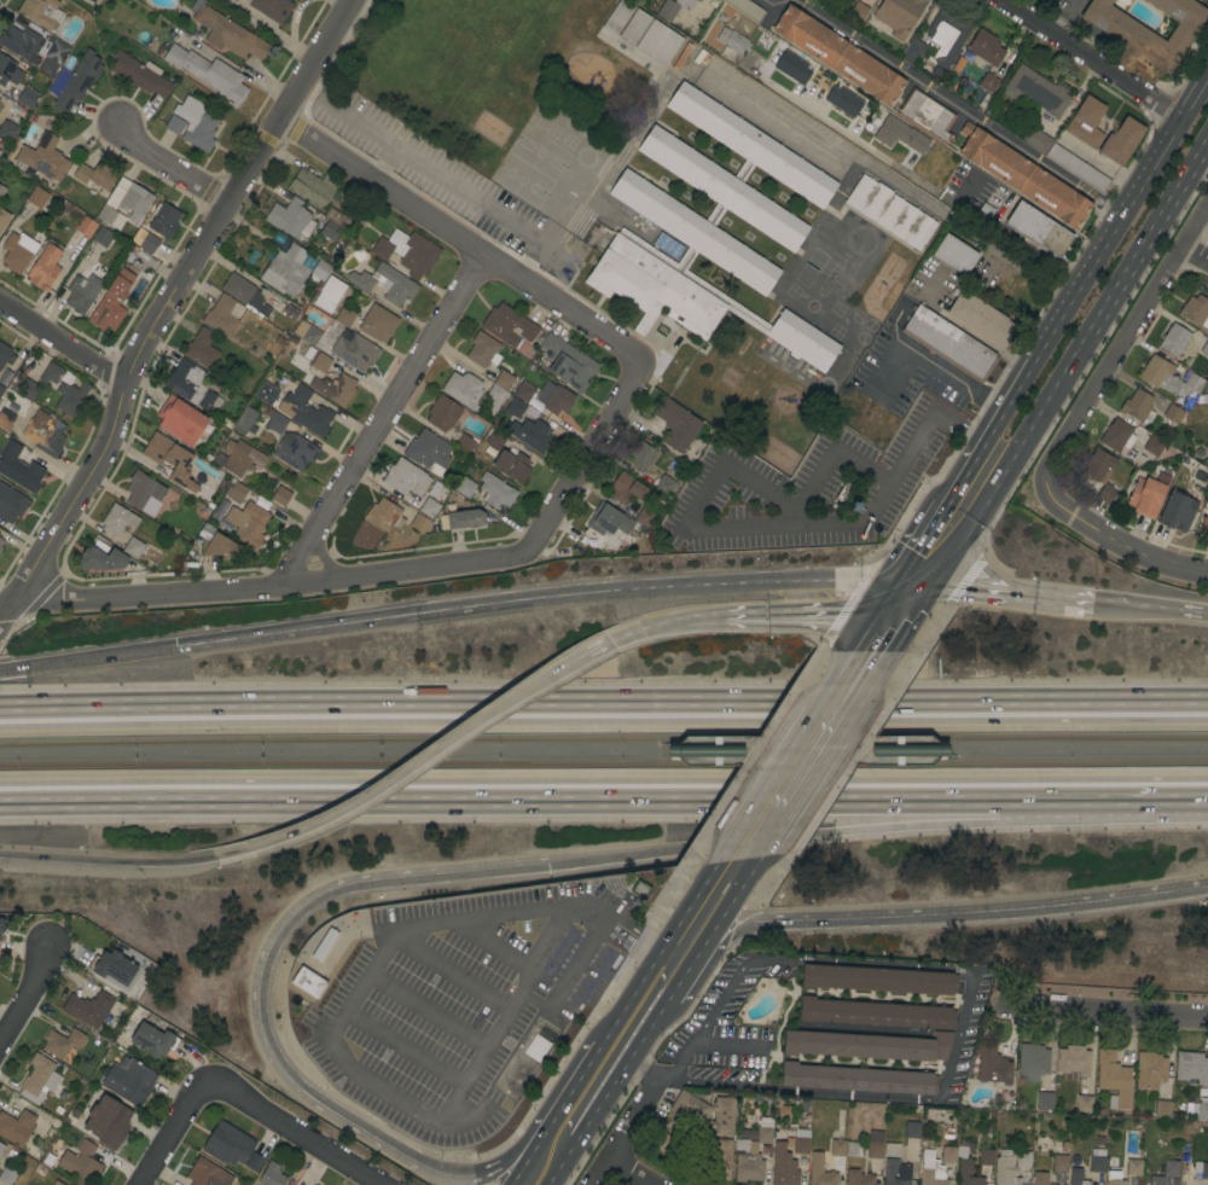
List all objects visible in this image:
building: (698, 0)
building: (765, 0)
building: (854, 0)
building: (673, 7)
building: (271, 8)
building: (745, 8)
building: (859, 10)
building: (41, 12)
building: (899, 14)
building: (617, 17)
road: (1062, 18)
building: (634, 28)
road: (271, 29)
building: (227, 33)
building: (1126, 33)
building: (947, 36)
building: (21, 41)
building: (733, 41)
building: (657, 42)
building: (985, 47)
building: (57, 52)
building: (912, 52)
building: (838, 54)
building: (681, 56)
road: (1084, 59)
park: (464, 65)
building: (792, 68)
building: (8, 71)
building: (209, 74)
building: (139, 75)
building: (975, 75)
building: (79, 81)
building: (987, 82)
building: (1036, 91)
building: (27, 97)
road: (940, 97)
building: (843, 100)
parking lot: (774, 115)
building: (927, 115)
building: (1086, 122)
building: (196, 123)
building: (174, 126)
road: (356, 126)
building: (7, 130)
building: (899, 134)
building: (1121, 140)
park: (538, 152)
road: (819, 152)
building: (43, 157)
building: (1062, 157)
road: (1202, 158)
road: (174, 164)
parking lot: (422, 164)
road: (902, 165)
road: (379, 170)
building: (95, 175)
building: (1023, 176)
park: (519, 179)
building: (312, 187)
building: (1, 190)
building: (36, 198)
building: (135, 201)
road: (483, 202)
road: (1120, 210)
building: (890, 211)
building: (105, 214)
building: (4, 217)
building: (341, 217)
building: (290, 219)
building: (164, 220)
building: (117, 221)
building: (85, 226)
building: (710, 230)
building: (1038, 230)
building: (330, 231)
road: (1148, 233)
building: (103, 237)
road: (455, 240)
building: (149, 243)
building: (667, 245)
building: (17, 251)
building: (407, 251)
road: (1006, 254)
building: (954, 255)
road: (1194, 261)
building: (43, 268)
building: (284, 269)
building: (318, 271)
building: (385, 284)
building: (242, 291)
building: (82, 292)
building: (329, 294)
building: (111, 302)
road: (161, 306)
building: (1195, 310)
building: (221, 315)
building: (344, 316)
building: (981, 319)
building: (377, 324)
building: (509, 326)
building: (309, 335)
building: (1174, 339)
building: (948, 343)
road: (60, 347)
building: (201, 348)
building: (352, 348)
building: (1204, 348)
building: (483, 350)
building: (5, 355)
building: (568, 362)
road: (933, 367)
building: (1169, 378)
building: (504, 379)
building: (344, 381)
building: (191, 384)
building: (1, 388)
building: (63, 388)
building: (29, 389)
building: (463, 389)
building: (522, 390)
building: (265, 393)
park: (745, 393)
building: (494, 397)
building: (553, 397)
building: (1204, 399)
building: (515, 407)
building: (1138, 407)
building: (304, 408)
building: (442, 413)
building: (1173, 413)
building: (5, 419)
building: (180, 420)
building: (245, 420)
road: (382, 420)
building: (274, 422)
road: (1073, 424)
building: (675, 425)
road: (988, 429)
building: (45, 432)
building: (530, 434)
building: (1116, 436)
building: (495, 440)
building: (465, 443)
road: (591, 448)
road: (835, 448)
building: (1158, 448)
building: (428, 449)
building: (295, 451)
building: (641, 455)
building: (168, 457)
building: (240, 458)
road: (1012, 458)
building: (512, 465)
building: (1207, 465)
building: (19, 467)
building: (1100, 474)
building: (406, 477)
building: (664, 484)
building: (465, 487)
building: (234, 490)
building: (625, 490)
building: (495, 492)
building: (144, 493)
building: (1148, 494)
building: (280, 496)
building: (11, 503)
building: (429, 507)
building: (1175, 512)
building: (384, 515)
building: (645, 517)
building: (465, 518)
building: (117, 519)
building: (606, 519)
building: (248, 523)
building: (419, 523)
building: (1204, 523)
road: (763, 525)
building: (0, 539)
road: (923, 540)
building: (1, 542)
building: (216, 542)
building: (0, 547)
building: (133, 547)
building: (100, 559)
traffic signals: (899, 580)
traffic signals: (933, 582)
road: (274, 588)
road: (1014, 593)
road: (889, 596)
road: (923, 598)
road: (552, 599)
road: (1151, 609)
traffic signals: (879, 612)
road: (896, 612)
road: (789, 614)
traffic signals: (914, 614)
road: (666, 622)
road: (904, 631)
road: (867, 632)
road: (609, 641)
road: (87, 658)
road: (876, 674)
road: (603, 705)
railway: (603, 737)
road: (689, 747)
road: (715, 750)
road: (898, 751)
road: (785, 756)
road: (823, 756)
road: (928, 756)
railway: (946, 759)
railway: (604, 762)
road: (407, 769)
road: (603, 791)
road: (879, 832)
road: (769, 838)
road: (106, 859)
traffic signals: (553, 864)
building: (640, 889)
road: (980, 911)
building: (1, 925)
building: (324, 945)
road: (496, 946)
road: (657, 954)
road: (707, 958)
building: (112, 966)
road: (448, 974)
road: (567, 976)
building: (877, 980)
building: (308, 983)
road: (726, 993)
road: (22, 997)
parking lot: (460, 1003)
road: (262, 1005)
building: (88, 1007)
road: (424, 1011)
building: (876, 1013)
road: (1107, 1013)
road: (651, 1024)
road: (329, 1030)
building: (153, 1040)
building: (62, 1042)
building: (867, 1045)
road: (402, 1047)
road: (616, 1049)
road: (685, 1055)
road: (949, 1062)
building: (1032, 1062)
building: (1073, 1063)
building: (993, 1064)
building: (1191, 1068)
building: (1150, 1070)
road: (644, 1074)
building: (856, 1079)
building: (1113, 1079)
building: (39, 1080)
building: (128, 1080)
road: (568, 1094)
building: (1044, 1100)
building: (1084, 1104)
building: (1162, 1109)
building: (1200, 1110)
building: (701, 1113)
building: (108, 1121)
road: (638, 1122)
building: (16, 1127)
building: (765, 1129)
building: (912, 1129)
building: (747, 1133)
road: (178, 1135)
road: (297, 1135)
building: (800, 1139)
building: (1098, 1139)
building: (228, 1144)
building: (875, 1144)
building: (1, 1148)
building: (837, 1148)
building: (853, 1149)
building: (948, 1155)
building: (1184, 1156)
building: (986, 1157)
building: (719, 1158)
building: (1022, 1158)
building: (80, 1161)
building: (1097, 1161)
building: (254, 1162)
building: (1059, 1162)
road: (525, 1163)
building: (747, 1163)
building: (783, 1166)
building: (1133, 1167)
road: (622, 1169)
building: (931, 1169)
building: (1004, 1169)
building: (1201, 1169)
building: (819, 1172)
building: (895, 1172)
building: (1166, 1173)
building: (207, 1174)
building: (968, 1174)
building: (272, 1175)
building: (6, 1177)
building: (1076, 1177)
building: (858, 1178)
building: (1040, 1178)
building: (1114, 1178)
building: (54, 1183)
road: (512, 1184)

